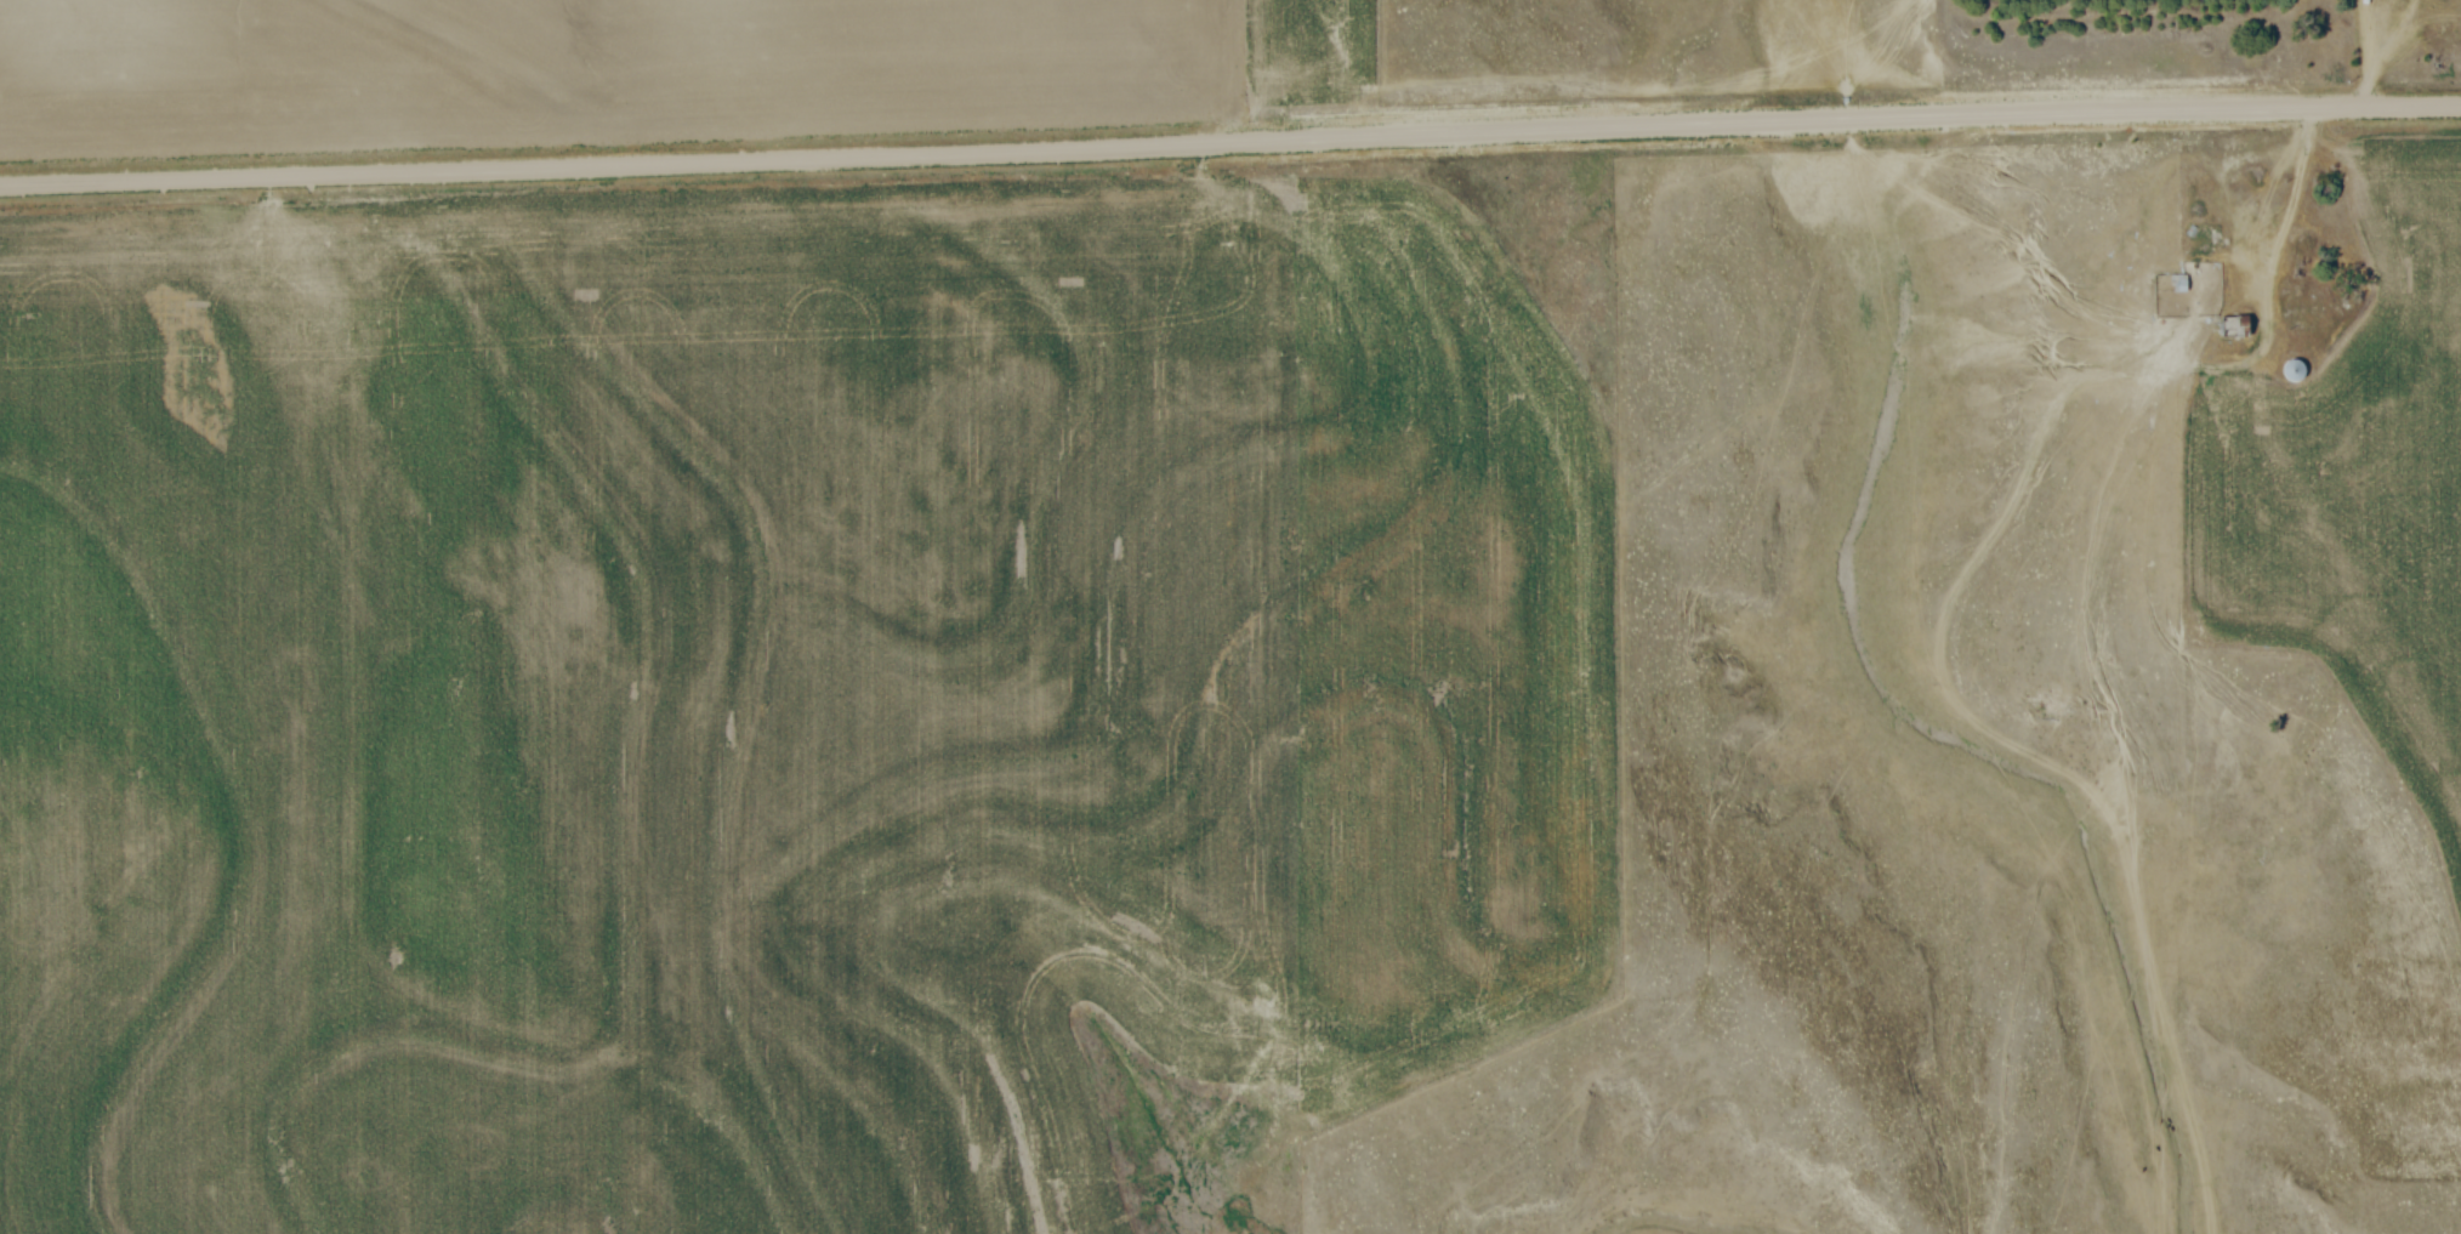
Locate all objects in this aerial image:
road: (1229, 142)
building: (2170, 283)
building: (2237, 326)
building: (2295, 370)

